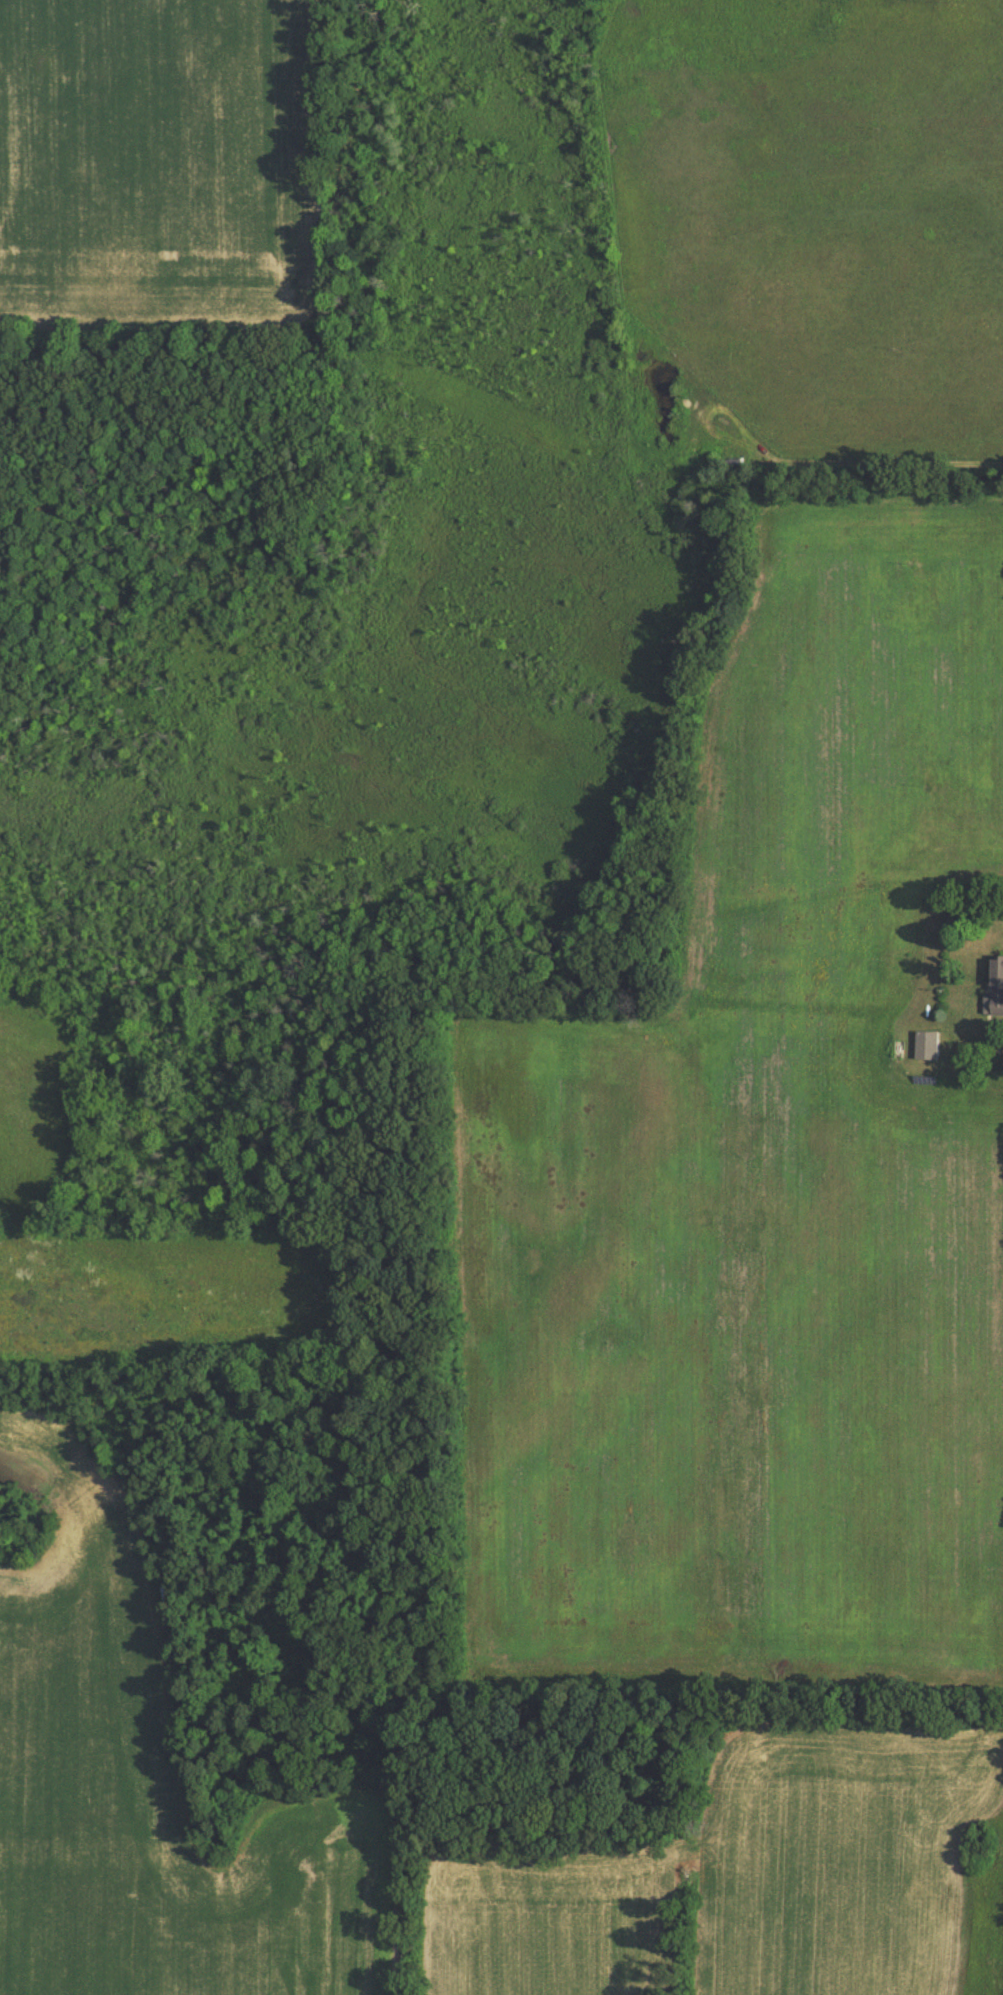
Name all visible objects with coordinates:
building: (997, 987)
building: (926, 1043)

